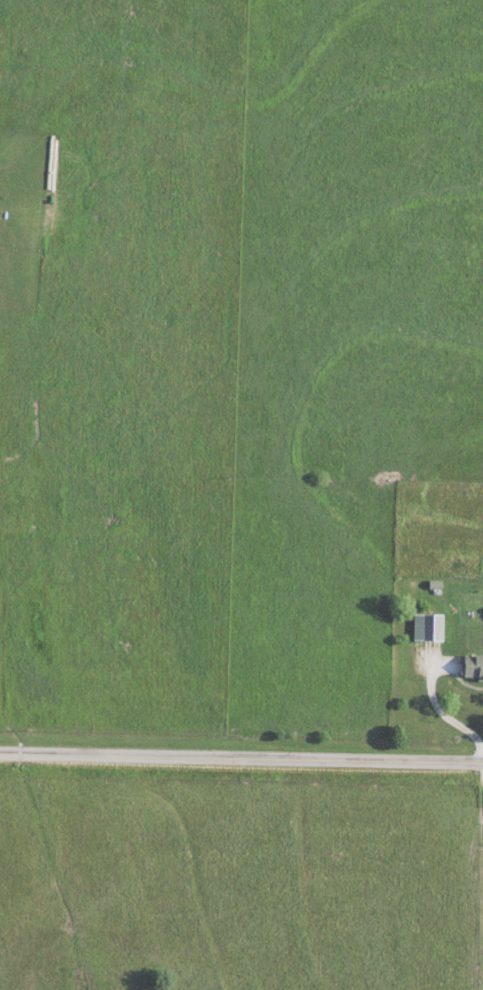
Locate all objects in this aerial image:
building: (457, 563)
building: (473, 667)
road: (438, 707)
road: (241, 759)
road: (482, 988)

